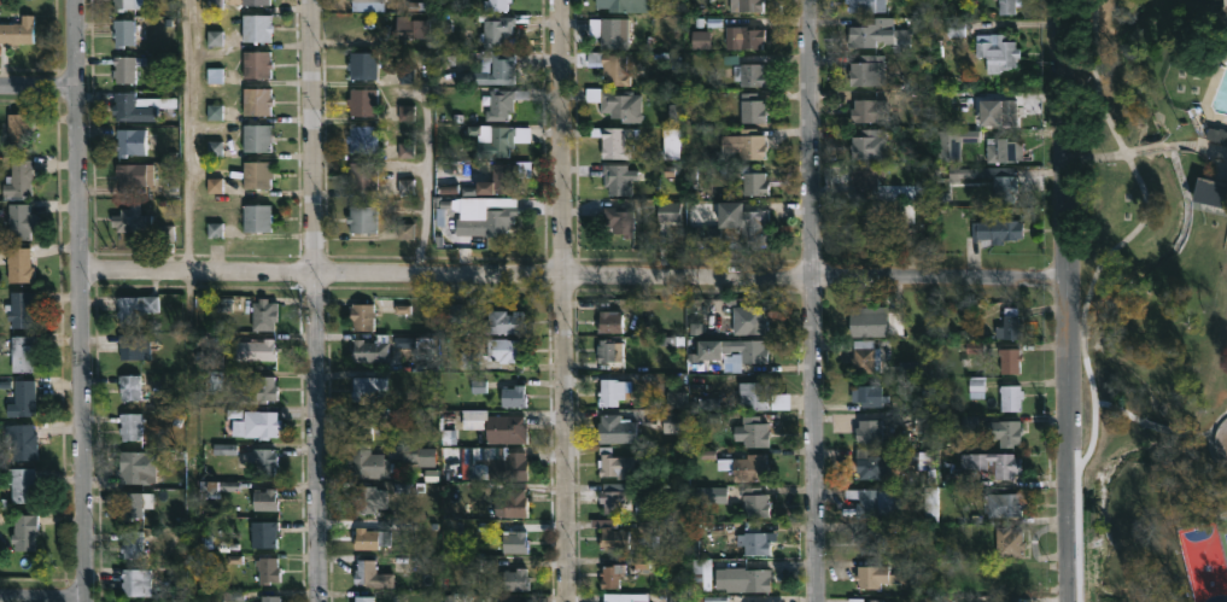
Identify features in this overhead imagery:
building: (255, 1)
building: (122, 4)
building: (495, 4)
building: (366, 5)
building: (624, 5)
building: (865, 5)
building: (746, 6)
building: (1006, 6)
building: (410, 27)
building: (255, 28)
building: (495, 29)
building: (17, 30)
building: (122, 31)
building: (613, 33)
building: (737, 33)
building: (880, 34)
building: (998, 52)
building: (256, 64)
building: (361, 65)
building: (610, 66)
building: (124, 68)
building: (501, 68)
building: (866, 70)
building: (749, 74)
road: (39, 84)
building: (256, 101)
building: (362, 101)
building: (502, 103)
building: (615, 103)
building: (140, 106)
building: (752, 107)
building: (867, 111)
building: (1007, 111)
building: (17, 133)
building: (1217, 134)
road: (182, 135)
road: (430, 135)
building: (255, 136)
building: (363, 138)
building: (499, 140)
building: (615, 140)
building: (129, 141)
building: (953, 142)
building: (749, 144)
building: (869, 144)
building: (673, 145)
road: (1155, 146)
road: (1213, 148)
building: (999, 150)
road: (1098, 153)
building: (136, 174)
building: (258, 174)
building: (363, 174)
building: (618, 177)
building: (866, 177)
building: (17, 179)
building: (497, 180)
building: (754, 183)
building: (1003, 188)
building: (1210, 192)
building: (671, 212)
building: (257, 217)
building: (361, 218)
building: (134, 220)
building: (618, 221)
building: (18, 222)
building: (487, 222)
building: (864, 224)
road: (1133, 227)
building: (741, 228)
building: (995, 232)
building: (17, 265)
road: (572, 271)
park: (1153, 299)
road: (80, 300)
road: (316, 300)
road: (563, 300)
road: (814, 300)
road: (1065, 300)
building: (18, 309)
building: (133, 309)
building: (263, 314)
building: (361, 316)
building: (748, 320)
building: (608, 321)
building: (869, 321)
building: (503, 322)
building: (1009, 326)
building: (133, 346)
building: (255, 350)
building: (368, 350)
building: (504, 350)
building: (746, 350)
building: (608, 351)
building: (21, 353)
building: (864, 356)
building: (1009, 360)
building: (366, 386)
building: (129, 387)
building: (256, 391)
building: (609, 393)
building: (512, 394)
building: (753, 396)
building: (869, 396)
building: (19, 398)
building: (1011, 398)
building: (673, 421)
building: (128, 426)
building: (256, 426)
road: (1159, 427)
building: (504, 428)
building: (615, 431)
building: (867, 431)
building: (1006, 431)
building: (753, 432)
road: (1191, 433)
road: (1208, 439)
building: (22, 440)
building: (386, 458)
building: (262, 460)
building: (503, 460)
building: (869, 462)
building: (992, 462)
building: (614, 463)
building: (744, 467)
building: (136, 468)
building: (19, 481)
building: (719, 496)
road: (1094, 496)
building: (367, 497)
building: (612, 498)
building: (262, 499)
building: (514, 502)
building: (755, 502)
building: (876, 502)
building: (130, 504)
building: (1005, 504)
road: (1214, 516)
park: (1226, 527)
building: (22, 530)
building: (263, 531)
building: (369, 536)
building: (506, 537)
building: (613, 537)
building: (871, 538)
building: (1010, 540)
building: (132, 542)
building: (754, 543)
park: (1210, 562)
building: (265, 568)
building: (370, 573)
building: (871, 574)
building: (613, 578)
building: (741, 578)
building: (514, 579)
building: (136, 580)
building: (994, 583)
road: (41, 596)
building: (268, 597)
building: (362, 597)
building: (623, 597)
building: (457, 598)
building: (680, 598)
building: (873, 600)

